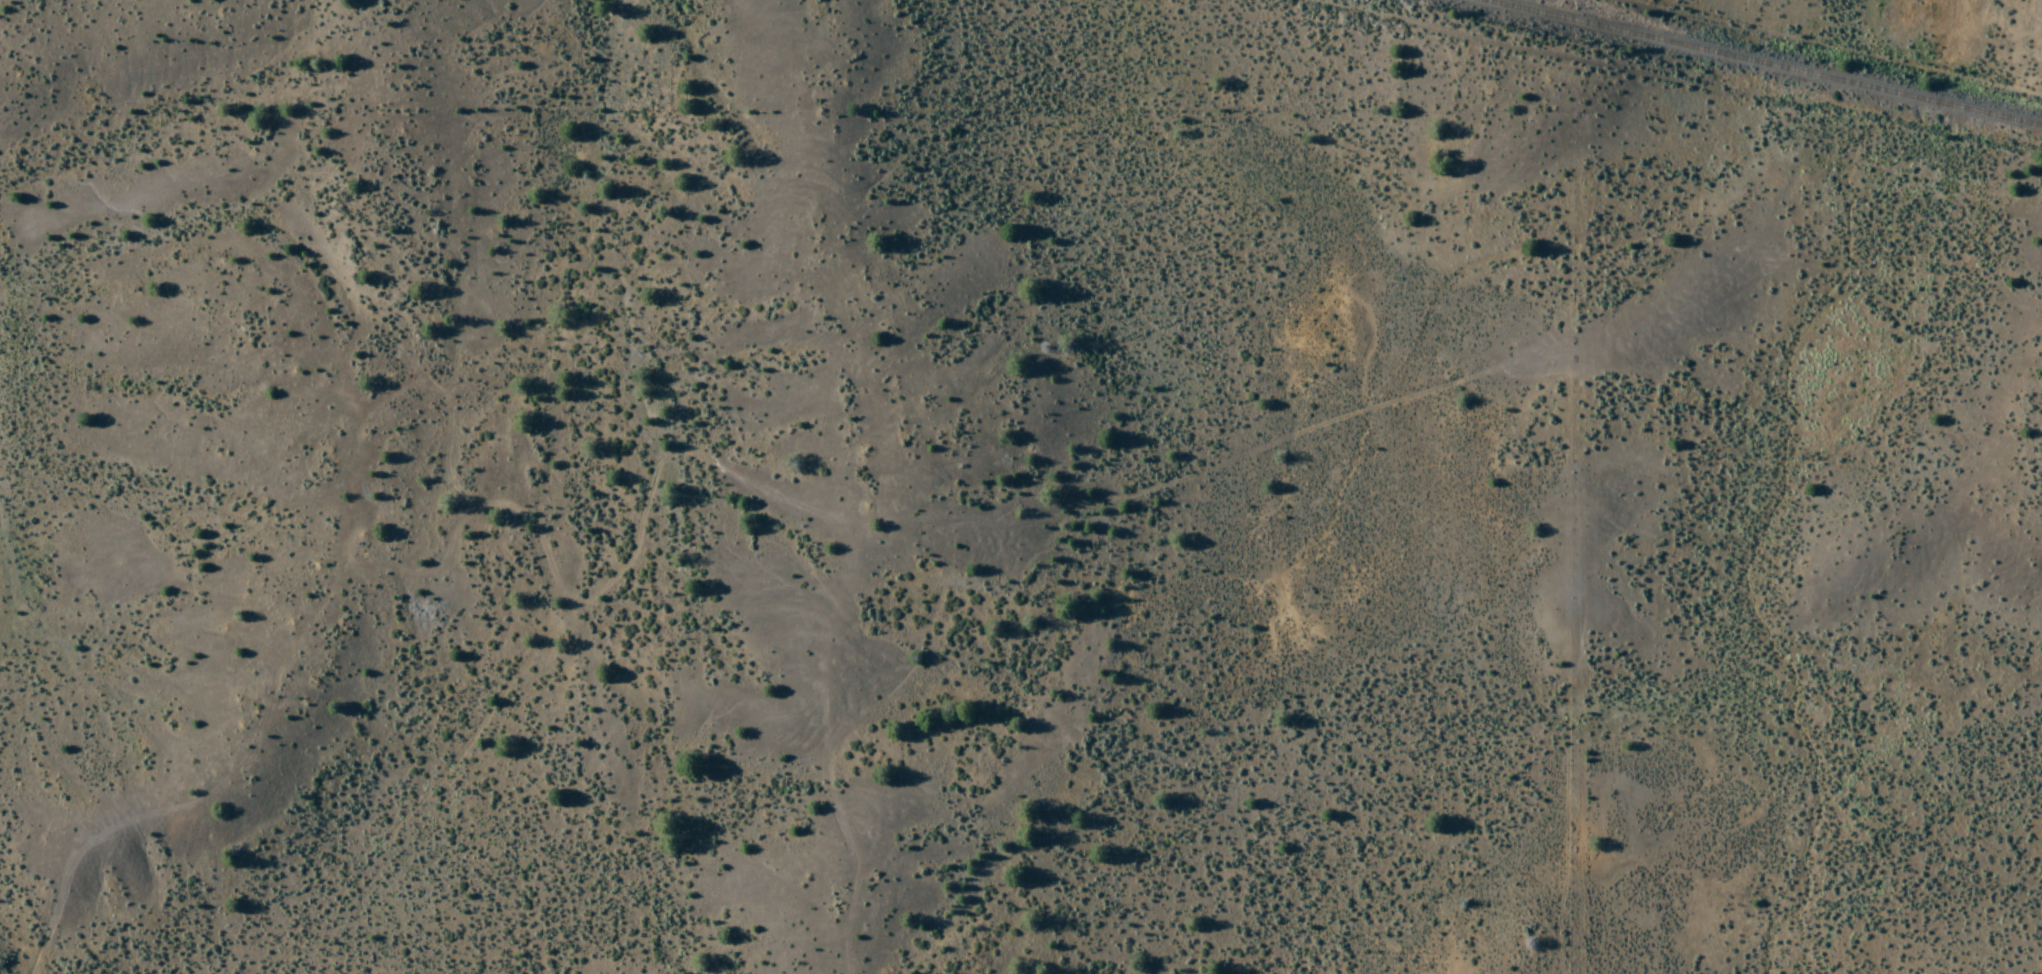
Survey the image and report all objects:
railway: (1761, 62)

